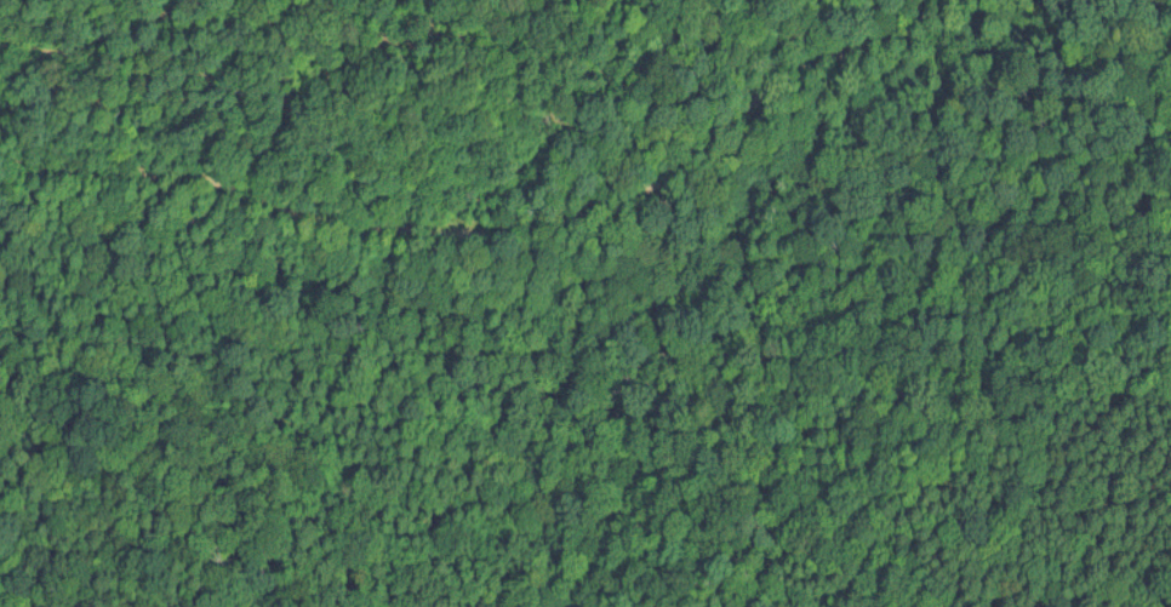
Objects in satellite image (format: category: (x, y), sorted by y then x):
road: (502, 221)

